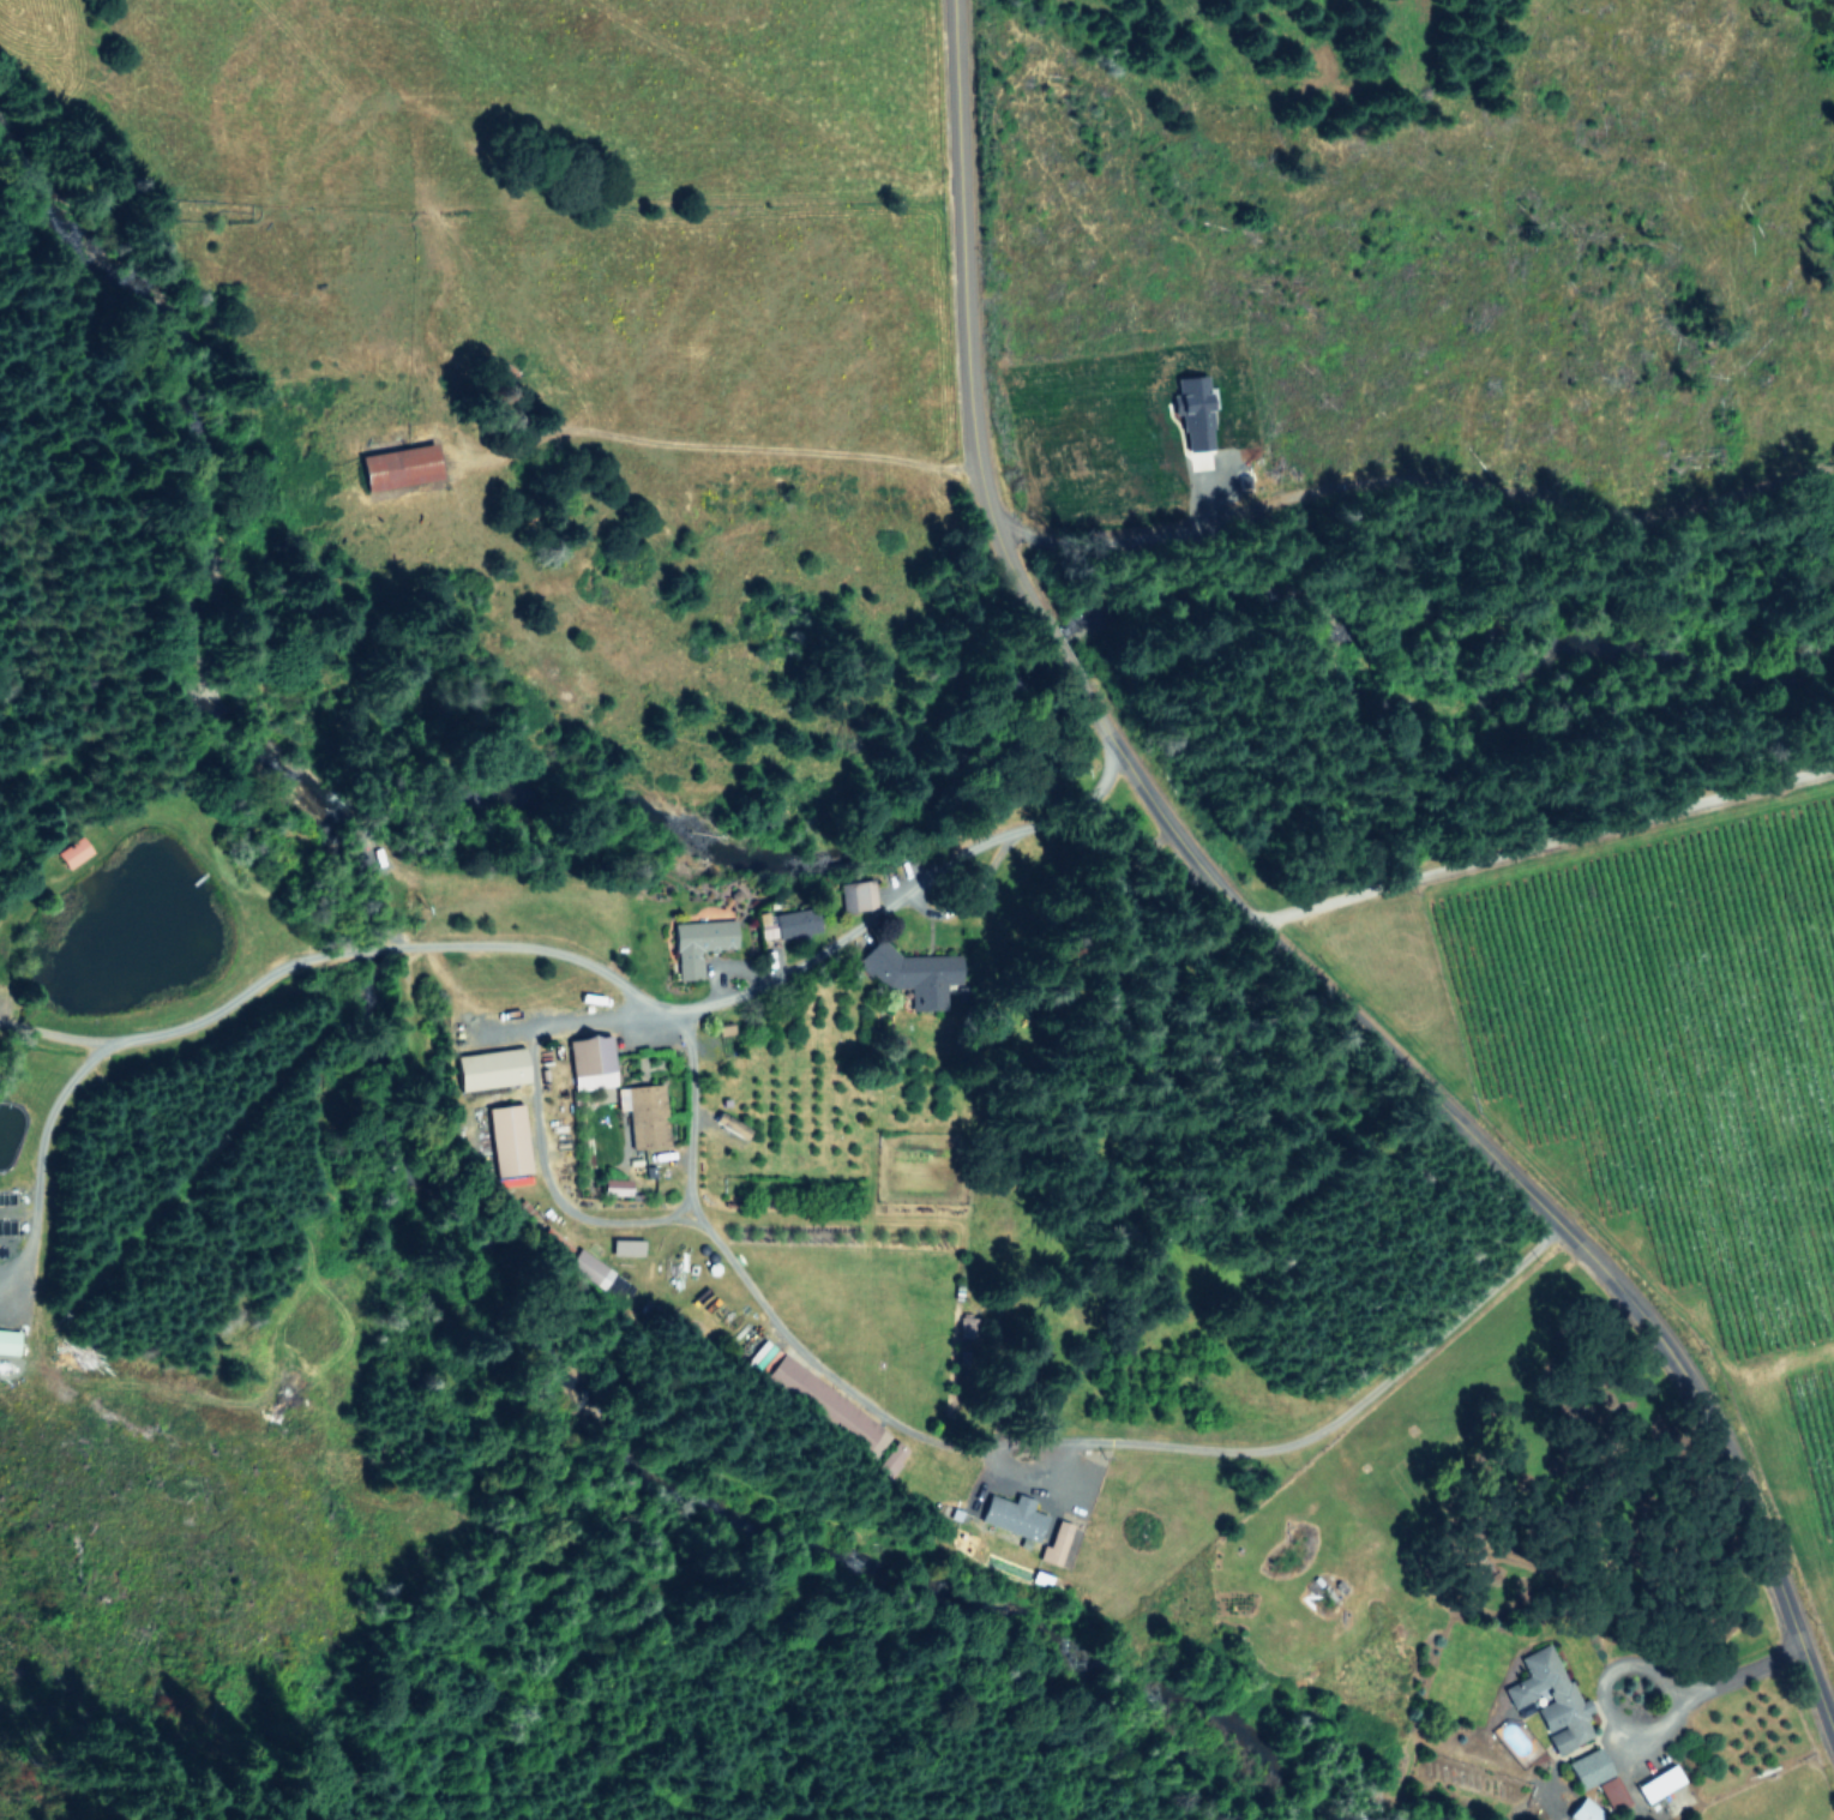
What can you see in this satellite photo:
building: (1195, 412)
building: (398, 464)
road: (1131, 541)
road: (1544, 848)
building: (862, 894)
building: (790, 923)
road: (1257, 927)
building: (698, 942)
road: (596, 968)
building: (916, 974)
building: (590, 1061)
building: (491, 1068)
building: (645, 1115)
crop: (1619, 1129)
road: (537, 1131)
building: (507, 1139)
road: (35, 1151)
building: (615, 1187)
building: (626, 1247)
building: (589, 1268)
building: (8, 1340)
road: (1009, 1455)
building: (1012, 1515)
building: (1552, 1699)
road: (1636, 1725)
building: (1589, 1767)
building: (1612, 1792)
building: (1585, 1810)

